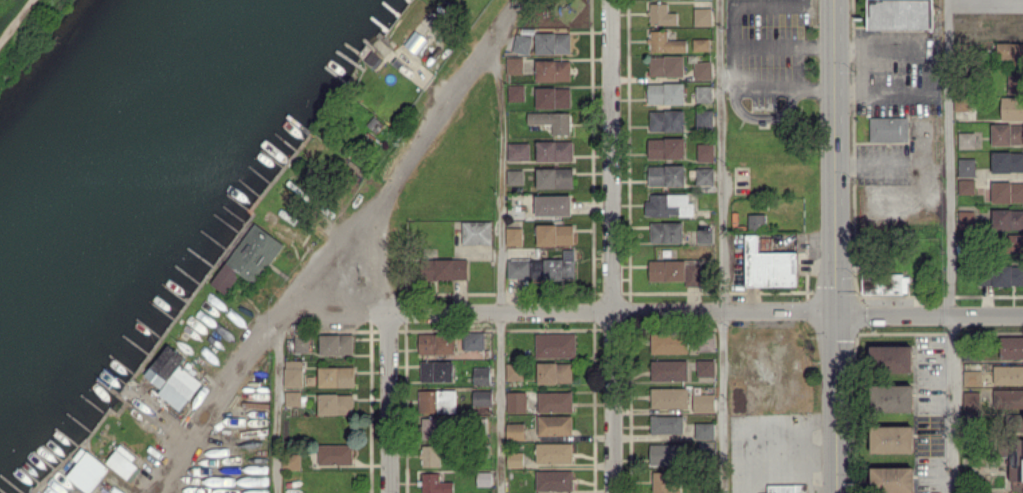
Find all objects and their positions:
building: (661, 14)
building: (900, 14)
building: (703, 16)
road: (18, 23)
landfill: (27, 31)
building: (415, 41)
building: (665, 42)
building: (552, 43)
building: (522, 44)
building: (701, 44)
building: (1009, 52)
road: (495, 58)
building: (515, 65)
building: (666, 65)
building: (553, 70)
building: (703, 70)
building: (1015, 82)
building: (516, 92)
building: (666, 93)
building: (704, 94)
building: (553, 97)
building: (1012, 108)
building: (704, 118)
building: (667, 120)
building: (552, 121)
building: (889, 128)
building: (1007, 134)
building: (966, 140)
river: (121, 143)
building: (666, 148)
building: (518, 151)
building: (554, 151)
building: (705, 152)
road: (950, 158)
building: (1007, 161)
road: (894, 163)
building: (966, 167)
building: (666, 175)
building: (515, 176)
building: (704, 176)
building: (554, 178)
river: (141, 185)
building: (966, 186)
building: (1007, 192)
building: (553, 205)
building: (669, 205)
building: (966, 219)
building: (1007, 219)
building: (757, 220)
building: (477, 232)
building: (666, 232)
building: (555, 234)
building: (514, 236)
building: (705, 236)
building: (1015, 243)
road: (335, 246)
road: (611, 246)
road: (720, 246)
road: (836, 246)
building: (249, 257)
building: (561, 266)
building: (769, 266)
building: (523, 268)
building: (448, 269)
building: (675, 272)
building: (1007, 276)
building: (885, 283)
road: (501, 285)
road: (547, 312)
road: (836, 313)
traffic signals: (836, 313)
road: (941, 316)
road: (388, 335)
building: (473, 341)
building: (302, 342)
building: (436, 343)
building: (336, 344)
building: (555, 345)
building: (667, 345)
building: (1011, 348)
building: (891, 358)
building: (705, 367)
building: (669, 370)
building: (436, 371)
building: (293, 373)
building: (554, 373)
building: (972, 374)
building: (1008, 375)
building: (336, 376)
building: (481, 376)
building: (173, 377)
building: (482, 397)
building: (292, 398)
building: (669, 398)
building: (893, 398)
building: (1008, 398)
building: (971, 400)
building: (437, 401)
building: (516, 401)
building: (555, 401)
building: (703, 402)
building: (335, 404)
road: (954, 404)
road: (275, 411)
building: (667, 424)
building: (554, 425)
building: (429, 428)
building: (515, 431)
building: (704, 431)
building: (892, 440)
building: (554, 453)
building: (336, 454)
building: (666, 454)
building: (430, 455)
road: (749, 456)
building: (515, 459)
building: (122, 461)
building: (291, 461)
building: (88, 472)
building: (893, 479)
building: (555, 480)
building: (662, 481)
building: (435, 483)
building: (787, 488)

